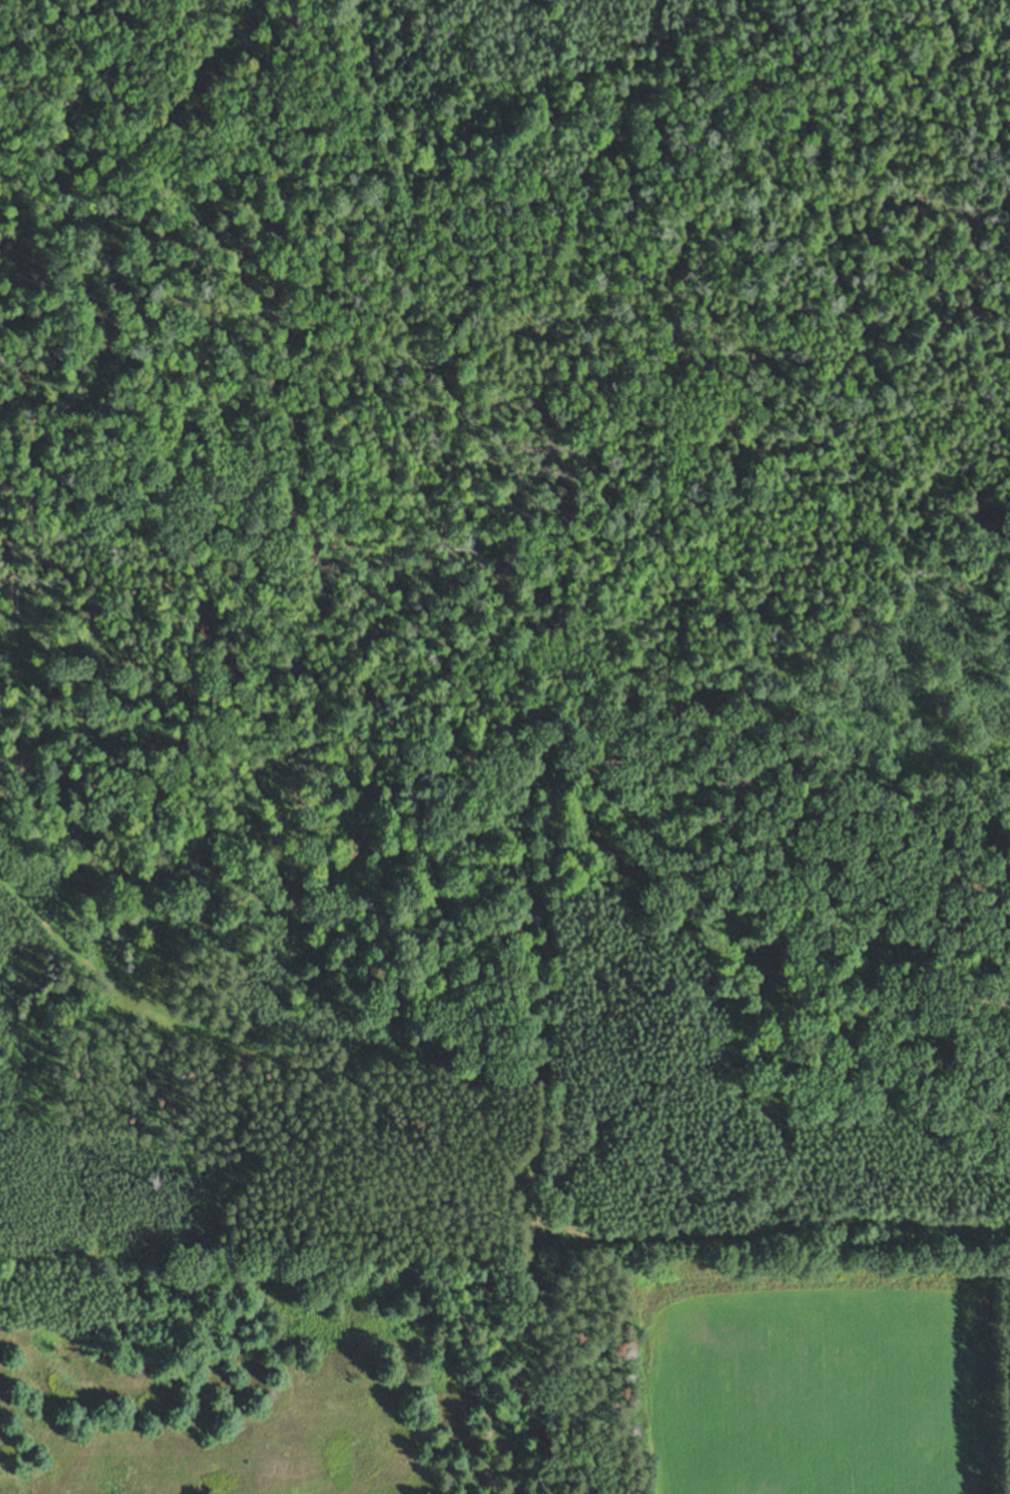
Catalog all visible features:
building: (528, 916)

